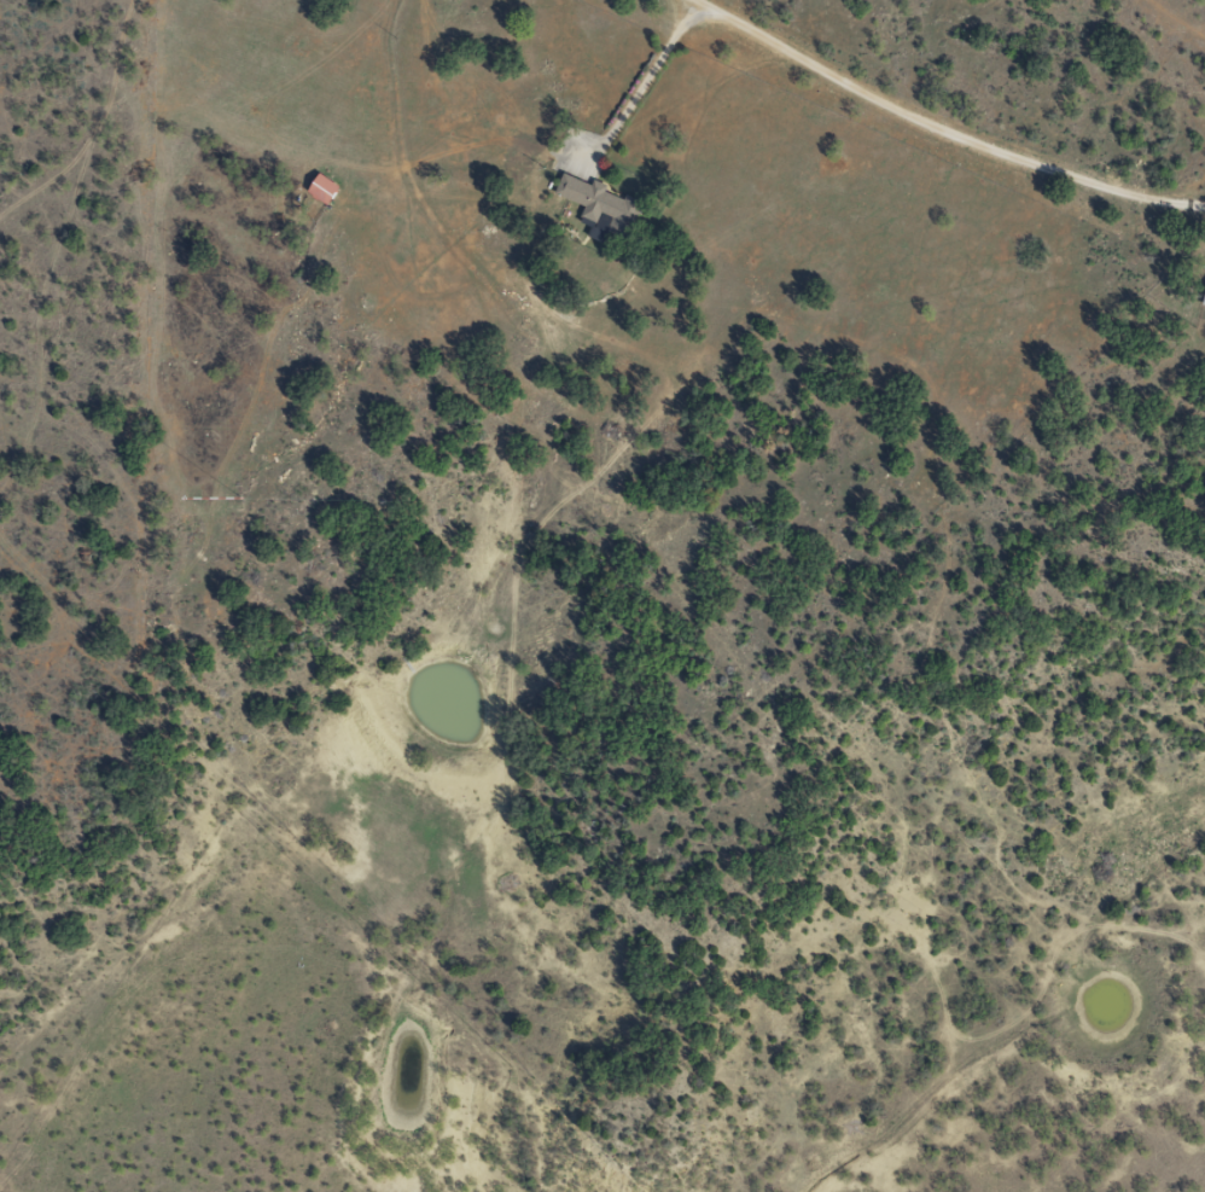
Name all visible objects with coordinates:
road: (938, 128)
building: (319, 187)
building: (598, 204)
building: (1201, 295)

